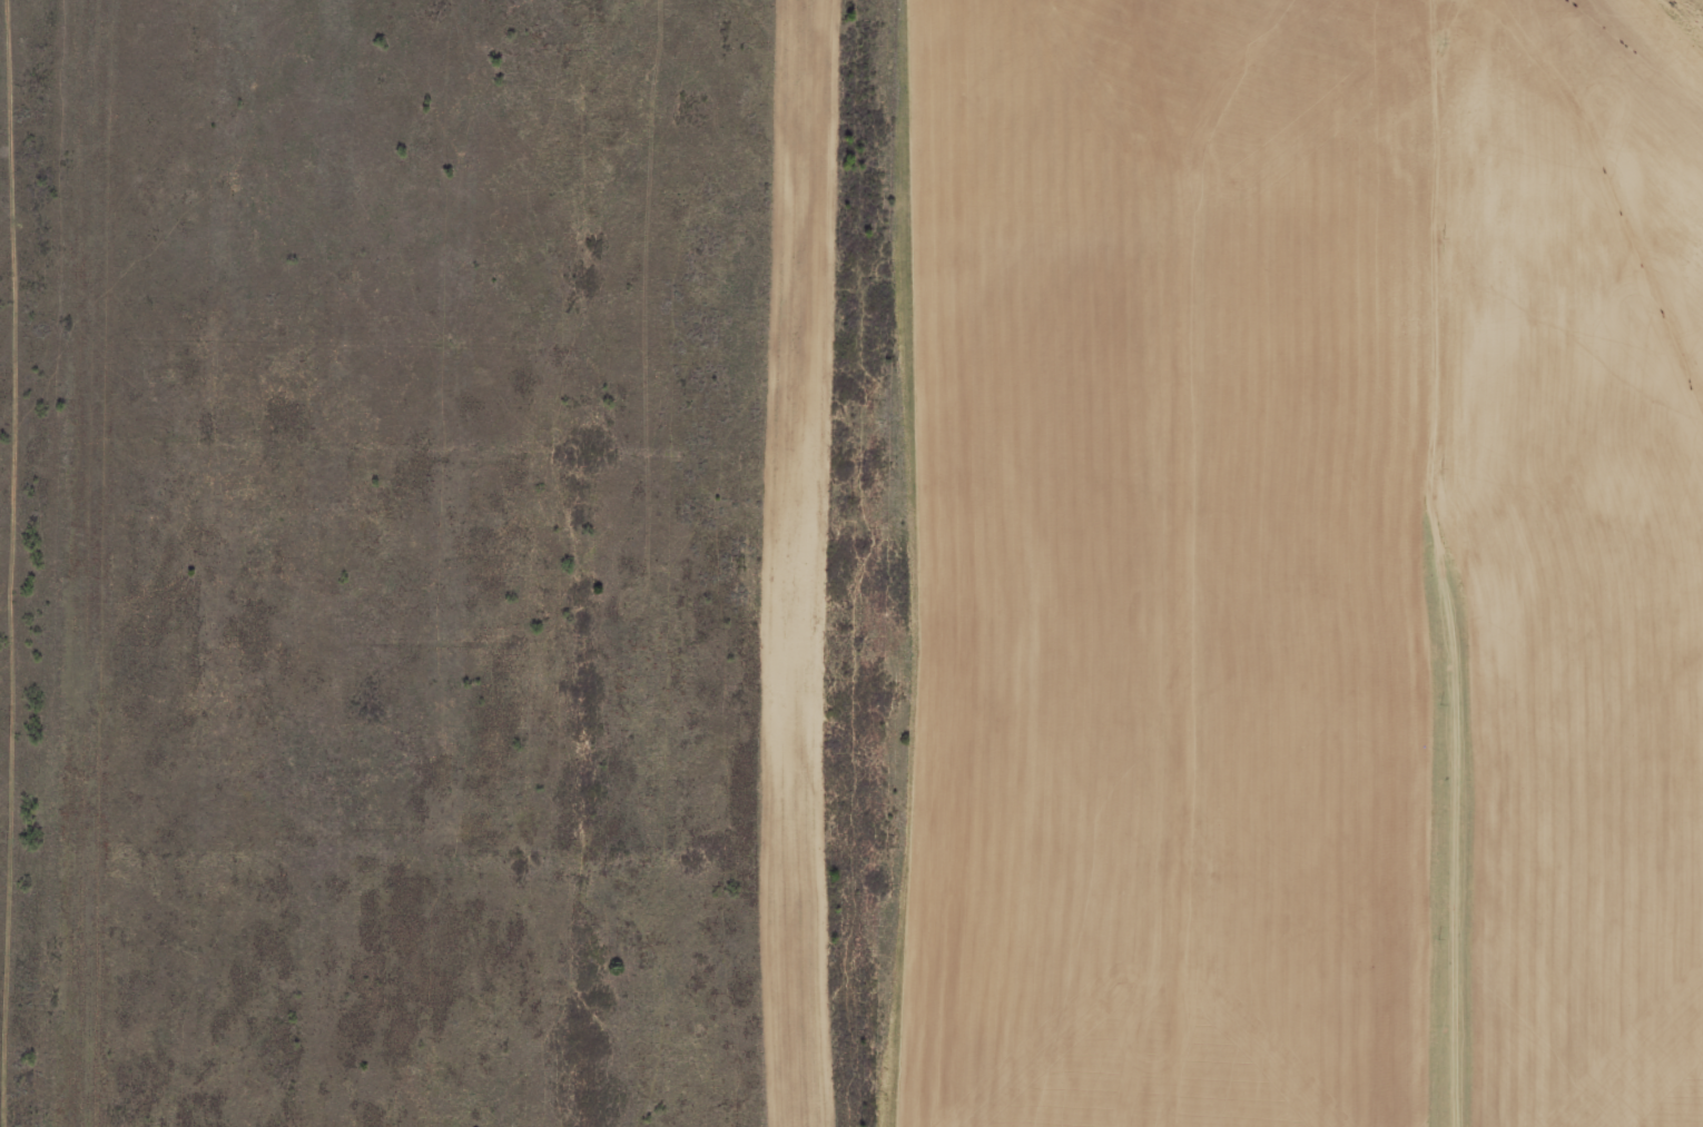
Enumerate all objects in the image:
road: (1465, 562)
road: (887, 563)

